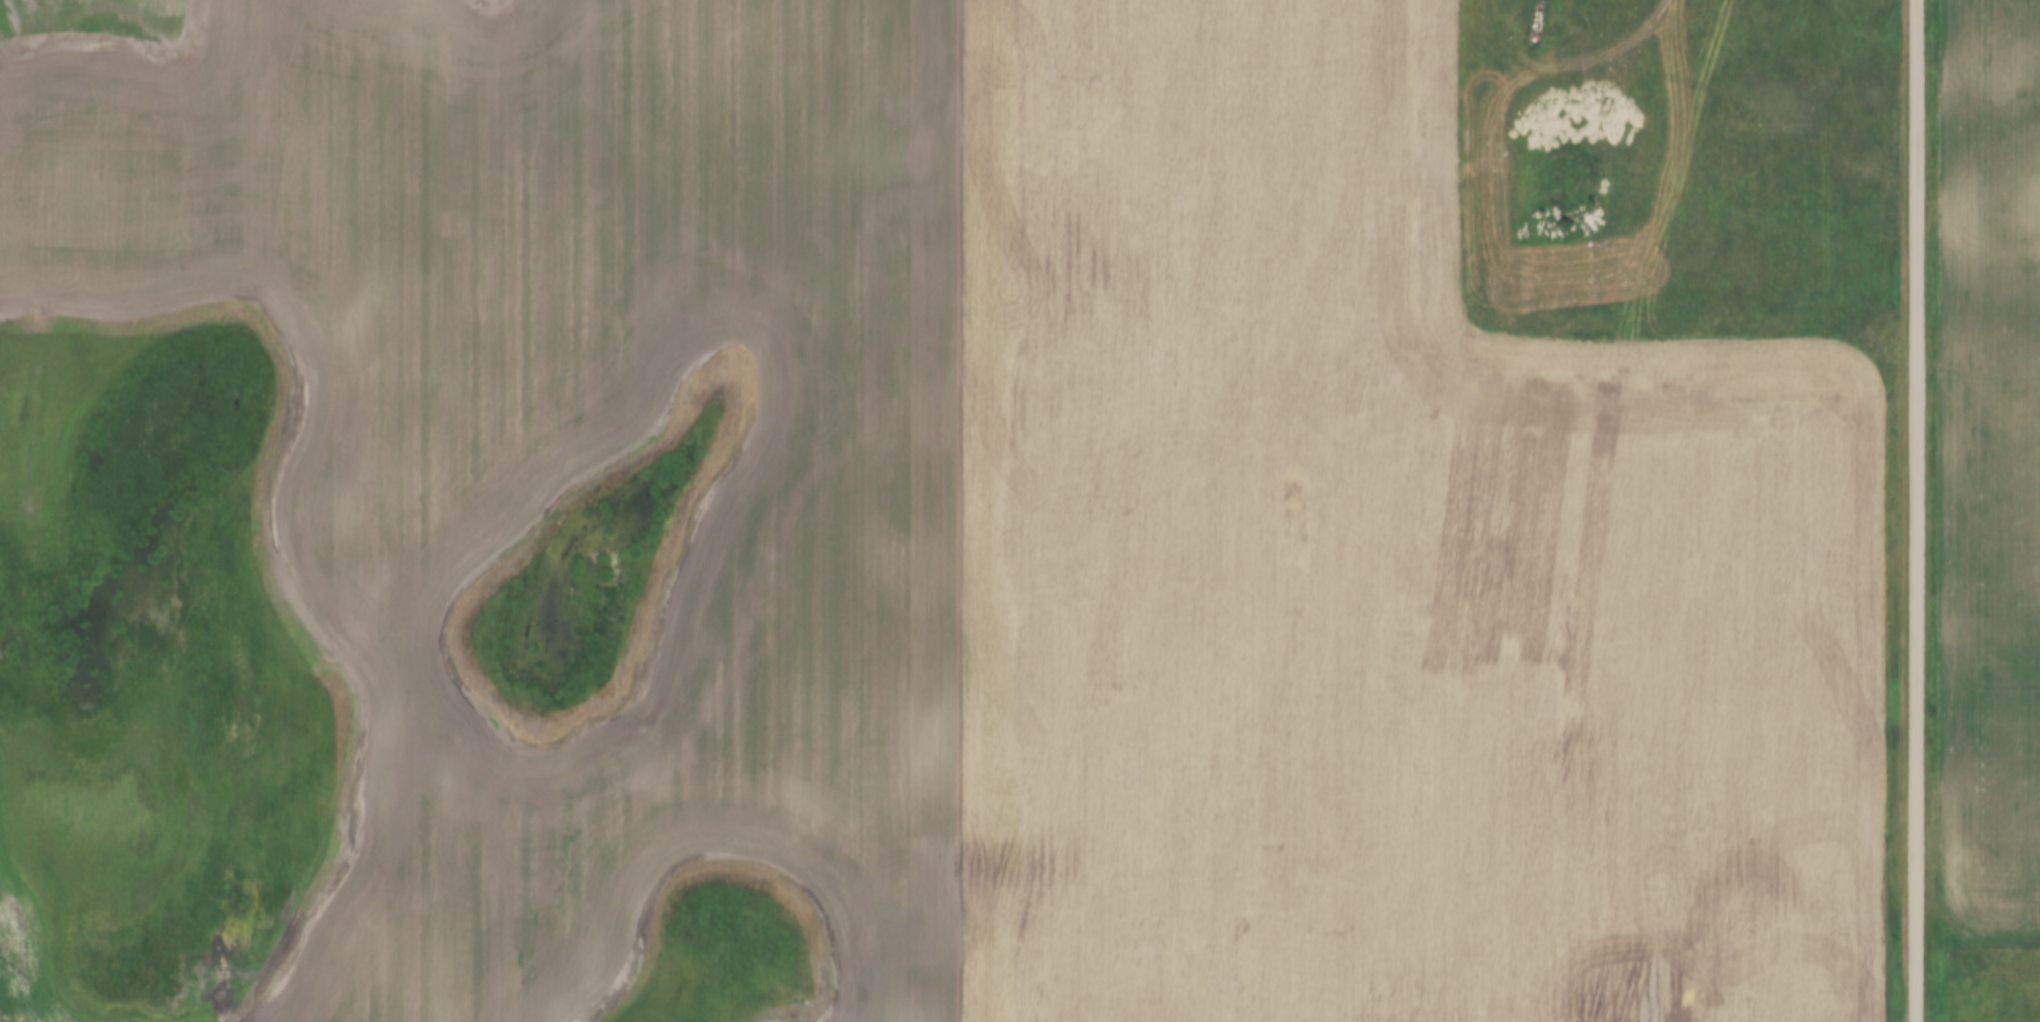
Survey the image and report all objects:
road: (1917, 511)

